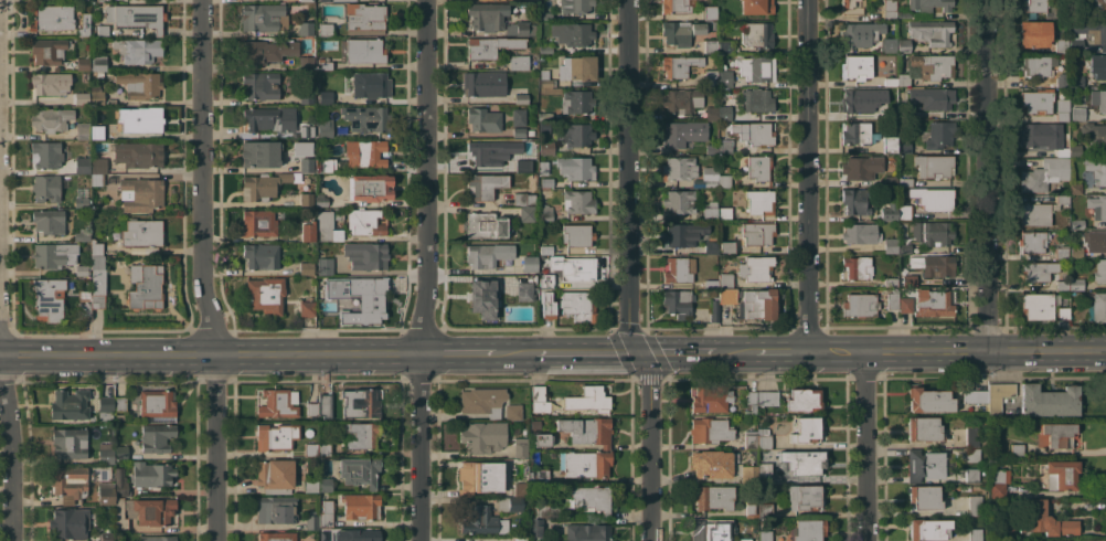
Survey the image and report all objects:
building: (306, 0)
building: (338, 0)
building: (529, 0)
building: (83, 1)
building: (103, 1)
building: (1084, 1)
building: (1099, 3)
building: (930, 4)
building: (575, 6)
building: (677, 6)
building: (852, 6)
building: (756, 7)
building: (1033, 7)
building: (890, 9)
building: (1056, 11)
building: (709, 12)
building: (1074, 13)
building: (904, 14)
building: (136, 15)
building: (487, 15)
building: (546, 15)
building: (263, 17)
building: (51, 18)
building: (365, 20)
building: (1064, 21)
building: (714, 24)
building: (84, 25)
building: (305, 29)
building: (326, 29)
building: (522, 29)
building: (103, 30)
building: (1091, 30)
building: (681, 32)
building: (930, 32)
building: (572, 33)
building: (757, 33)
building: (861, 33)
building: (1034, 33)
building: (1061, 44)
building: (491, 45)
building: (710, 45)
building: (903, 45)
building: (1075, 45)
building: (725, 46)
building: (545, 49)
building: (137, 50)
building: (50, 51)
building: (266, 51)
building: (366, 51)
building: (306, 62)
building: (521, 63)
building: (1073, 63)
building: (83, 64)
building: (98, 65)
building: (326, 65)
building: (679, 65)
building: (1039, 65)
building: (1097, 65)
building: (858, 66)
building: (934, 66)
building: (577, 67)
building: (756, 67)
building: (711, 77)
building: (725, 77)
building: (546, 78)
building: (903, 79)
building: (1062, 79)
building: (1077, 79)
building: (891, 82)
building: (50, 83)
building: (481, 83)
building: (139, 84)
building: (260, 85)
building: (370, 87)
building: (724, 91)
building: (82, 95)
building: (96, 95)
building: (522, 95)
building: (306, 96)
building: (326, 97)
building: (932, 97)
building: (682, 99)
building: (859, 100)
building: (1102, 100)
building: (576, 102)
building: (756, 102)
building: (1036, 102)
building: (1062, 108)
building: (712, 113)
building: (724, 113)
building: (1076, 113)
building: (545, 116)
building: (366, 117)
building: (519, 117)
building: (140, 118)
building: (269, 118)
building: (51, 119)
building: (483, 119)
building: (323, 127)
building: (543, 127)
building: (306, 129)
building: (83, 130)
building: (96, 131)
building: (519, 131)
building: (531, 131)
building: (684, 132)
building: (857, 132)
building: (576, 134)
building: (759, 134)
building: (938, 134)
building: (1093, 134)
building: (1042, 135)
building: (889, 144)
building: (725, 146)
building: (904, 147)
building: (301, 148)
building: (546, 148)
building: (712, 149)
building: (1073, 150)
building: (1062, 151)
building: (486, 152)
building: (45, 153)
building: (138, 153)
building: (259, 153)
building: (353, 157)
building: (82, 165)
building: (97, 165)
building: (306, 165)
building: (527, 165)
building: (934, 165)
building: (543, 167)
building: (861, 167)
building: (577, 168)
building: (680, 168)
building: (758, 168)
building: (1095, 170)
building: (1044, 173)
building: (710, 176)
road: (806, 176)
road: (986, 176)
building: (97, 179)
building: (724, 180)
building: (890, 180)
building: (905, 181)
building: (546, 182)
building: (264, 184)
building: (485, 185)
building: (47, 187)
building: (370, 187)
building: (1075, 187)
building: (140, 194)
building: (81, 197)
building: (523, 198)
building: (933, 198)
building: (306, 199)
building: (1062, 199)
building: (321, 200)
building: (855, 200)
building: (578, 201)
building: (679, 201)
building: (759, 201)
building: (1097, 206)
building: (710, 211)
building: (890, 211)
building: (545, 212)
building: (904, 212)
building: (528, 213)
building: (724, 213)
building: (1035, 213)
building: (339, 215)
building: (49, 221)
building: (366, 221)
building: (257, 223)
building: (1077, 223)
building: (485, 224)
building: (328, 227)
building: (308, 231)
building: (140, 232)
building: (756, 233)
building: (861, 233)
building: (932, 233)
building: (577, 234)
building: (680, 234)
building: (82, 235)
building: (1095, 241)
building: (1032, 242)
building: (891, 245)
building: (726, 246)
building: (96, 247)
building: (711, 247)
building: (904, 247)
building: (549, 250)
building: (1061, 252)
building: (1075, 252)
building: (53, 255)
building: (260, 255)
building: (365, 255)
building: (487, 255)
building: (97, 263)
building: (529, 263)
building: (932, 264)
building: (325, 266)
building: (858, 267)
building: (306, 268)
building: (574, 268)
building: (756, 268)
building: (81, 269)
building: (679, 269)
road: (200, 270)
road: (421, 270)
building: (1038, 270)
building: (1099, 270)
road: (628, 272)
building: (545, 279)
building: (725, 279)
building: (911, 279)
building: (890, 280)
building: (710, 284)
building: (1075, 284)
building: (145, 286)
building: (524, 291)
building: (266, 294)
building: (483, 296)
building: (727, 296)
building: (47, 298)
building: (892, 298)
building: (366, 300)
building: (97, 301)
building: (934, 301)
building: (677, 303)
building: (546, 304)
building: (757, 304)
building: (859, 305)
building: (905, 305)
building: (577, 306)
building: (1038, 306)
building: (1097, 307)
building: (306, 308)
building: (84, 310)
building: (714, 310)
building: (325, 312)
building: (1062, 312)
road: (735, 352)
road: (779, 352)
road: (956, 352)
road: (513, 353)
road: (585, 353)
traffic signals: (637, 353)
road: (677, 353)
road: (210, 354)
road: (456, 354)
building: (538, 393)
building: (998, 395)
building: (975, 396)
building: (767, 397)
building: (711, 399)
building: (588, 400)
building: (804, 400)
building: (929, 400)
building: (1049, 400)
building: (482, 401)
building: (751, 402)
building: (105, 403)
building: (119, 403)
building: (277, 403)
building: (358, 403)
building: (70, 404)
building: (157, 405)
building: (325, 405)
building: (540, 406)
building: (312, 409)
building: (513, 412)
building: (535, 424)
building: (924, 428)
building: (587, 429)
building: (710, 429)
building: (807, 429)
building: (1055, 434)
building: (362, 435)
building: (481, 436)
building: (971, 436)
building: (156, 437)
building: (273, 437)
building: (756, 437)
building: (541, 439)
building: (70, 443)
road: (864, 446)
building: (310, 447)
building: (520, 447)
building: (326, 449)
building: (1018, 449)
building: (121, 452)
building: (971, 454)
building: (106, 456)
road: (10, 457)
building: (802, 462)
building: (713, 463)
building: (585, 464)
building: (924, 464)
building: (359, 470)
building: (764, 471)
building: (151, 474)
building: (748, 474)
building: (1060, 474)
building: (275, 475)
building: (972, 475)
building: (540, 476)
building: (478, 478)
building: (72, 481)
building: (120, 482)
building: (999, 482)
building: (325, 484)
building: (520, 484)
building: (310, 486)
building: (105, 492)
building: (712, 497)
building: (805, 497)
building: (925, 497)
building: (589, 498)
building: (510, 503)
building: (361, 506)
building: (975, 506)
building: (276, 509)
building: (765, 509)
building: (543, 510)
building: (152, 511)
building: (326, 512)
building: (120, 516)
building: (311, 520)
building: (481, 520)
building: (1046, 520)
building: (70, 522)
building: (535, 528)
building: (928, 529)
building: (709, 530)
building: (808, 530)
building: (587, 532)
building: (975, 534)
building: (362, 535)
building: (765, 535)
building: (107, 537)
building: (277, 537)
building: (158, 538)
building: (520, 539)
building: (744, 539)
building: (1055, 540)

